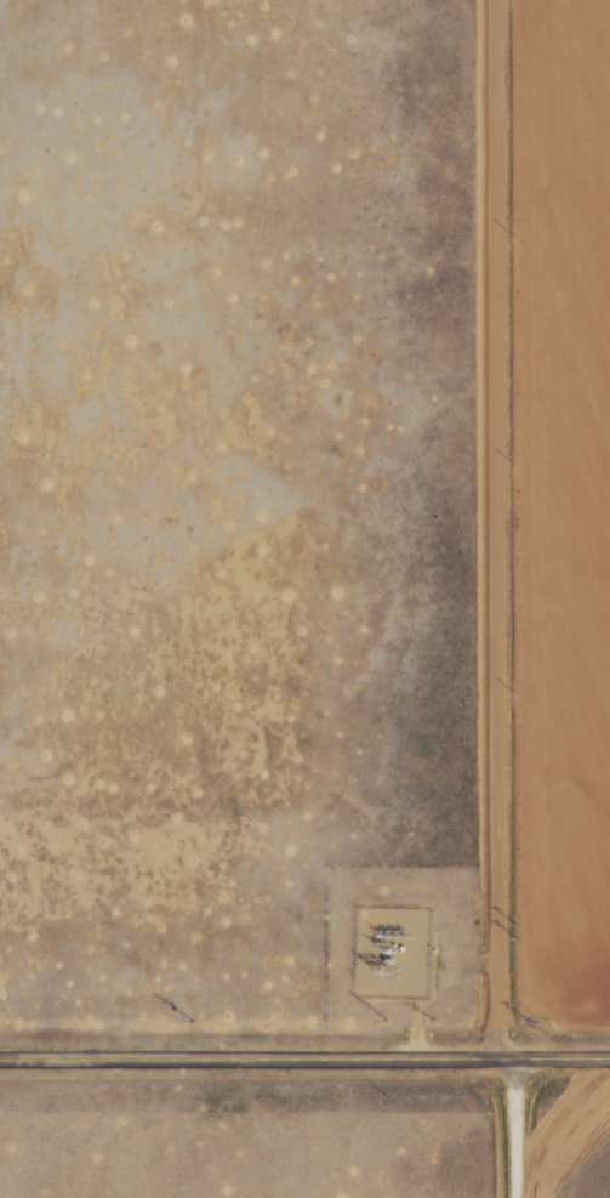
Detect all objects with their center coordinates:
road: (519, 598)
road: (304, 1064)

